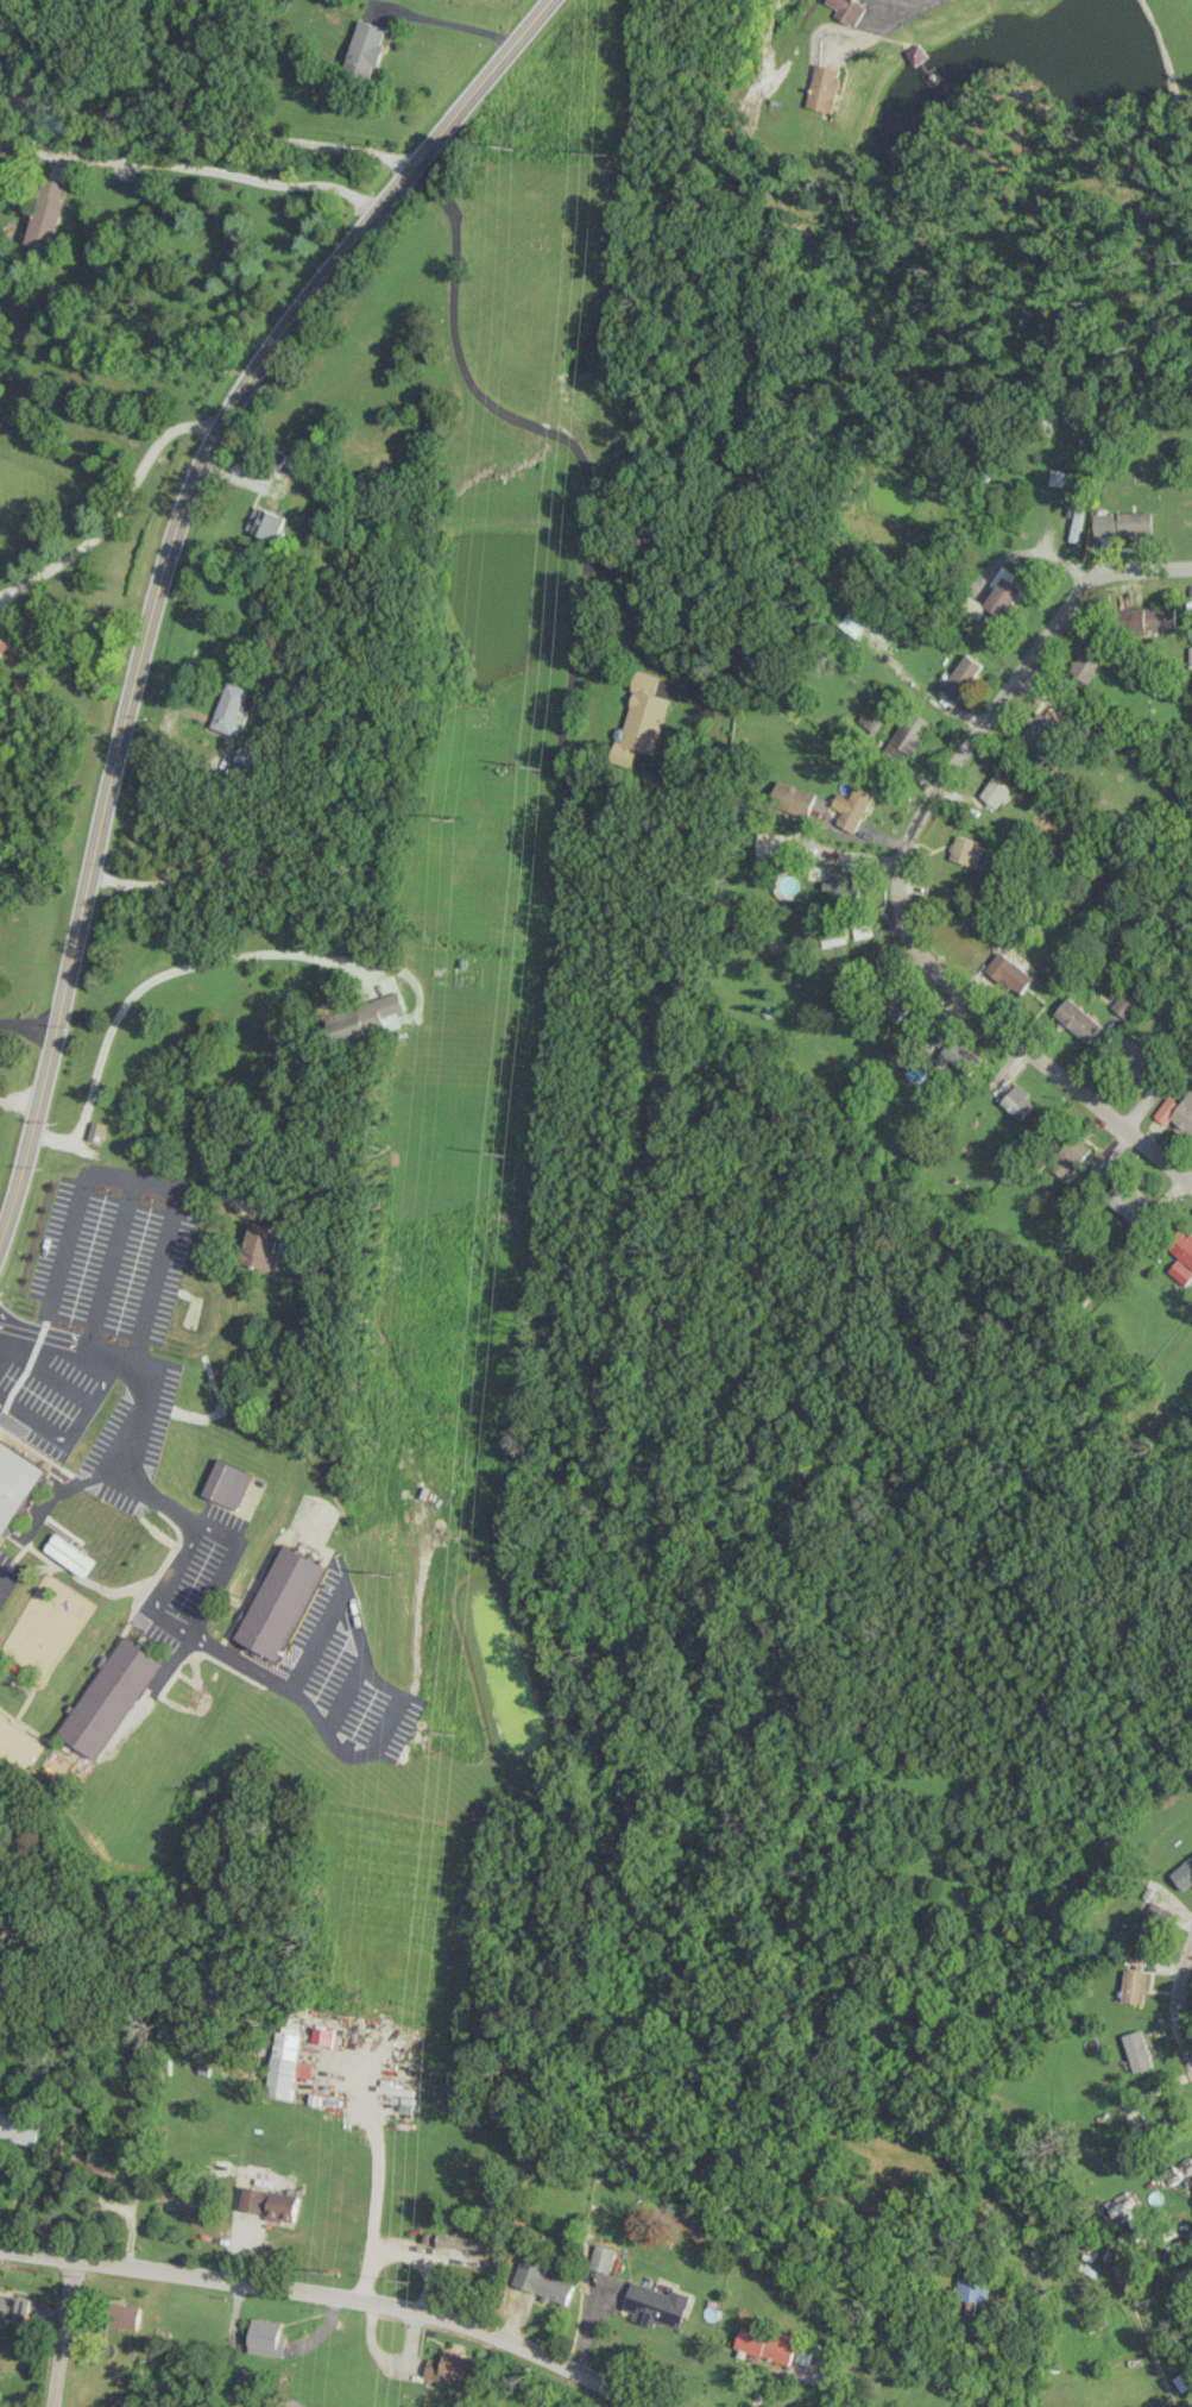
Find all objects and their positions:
building: (847, 10)
road: (904, 15)
road: (2, 18)
road: (443, 20)
building: (365, 46)
building: (825, 87)
road: (204, 133)
power tower: (510, 147)
power tower: (598, 153)
road: (209, 169)
building: (45, 213)
road: (547, 428)
building: (1054, 477)
road: (114, 508)
building: (265, 522)
building: (1122, 523)
road: (162, 568)
building: (1001, 591)
road: (1058, 617)
building: (1149, 617)
building: (851, 620)
building: (1085, 666)
building: (961, 674)
building: (229, 708)
building: (641, 719)
building: (1036, 730)
road: (559, 731)
building: (907, 735)
building: (247, 759)
power tower: (537, 765)
building: (994, 790)
building: (795, 799)
building: (851, 806)
power tower: (452, 821)
road: (231, 835)
building: (771, 844)
building: (965, 850)
building: (838, 884)
building: (862, 928)
building: (819, 937)
road: (219, 957)
building: (1011, 974)
road: (963, 997)
building: (895, 1005)
building: (1125, 1005)
building: (1078, 1018)
road: (26, 1023)
building: (959, 1057)
building: (1137, 1060)
road: (18, 1098)
building: (1020, 1101)
building: (1177, 1111)
building: (95, 1131)
road: (49, 1136)
building: (1073, 1154)
power tower: (504, 1156)
road: (157, 1183)
building: (1127, 1201)
road: (75, 1213)
building: (260, 1245)
building: (1182, 1246)
building: (1181, 1271)
road: (1, 1345)
road: (151, 1394)
road: (88, 1412)
building: (17, 1483)
building: (228, 1483)
building: (70, 1554)
road: (226, 1567)
power tower: (392, 1570)
road: (2, 1579)
road: (171, 1579)
building: (280, 1602)
building: (109, 1697)
road: (393, 1721)
power tower: (456, 1728)
building: (1184, 1874)
building: (1152, 1923)
building: (1134, 1985)
road: (1181, 2003)
building: (324, 2035)
building: (1137, 2050)
building: (1167, 2114)
building: (18, 2129)
building: (1191, 2180)
road: (29, 2185)
road: (372, 2194)
building: (270, 2204)
building: (467, 2246)
building: (604, 2257)
building: (1122, 2269)
power tower: (334, 2270)
building: (540, 2279)
power tower: (410, 2280)
building: (972, 2288)
road: (333, 2296)
road: (1128, 2302)
building: (657, 2305)
building: (14, 2307)
building: (126, 2315)
building: (1098, 2317)
road: (59, 2332)
building: (265, 2338)
building: (769, 2344)
building: (458, 2369)
building: (1182, 2381)

